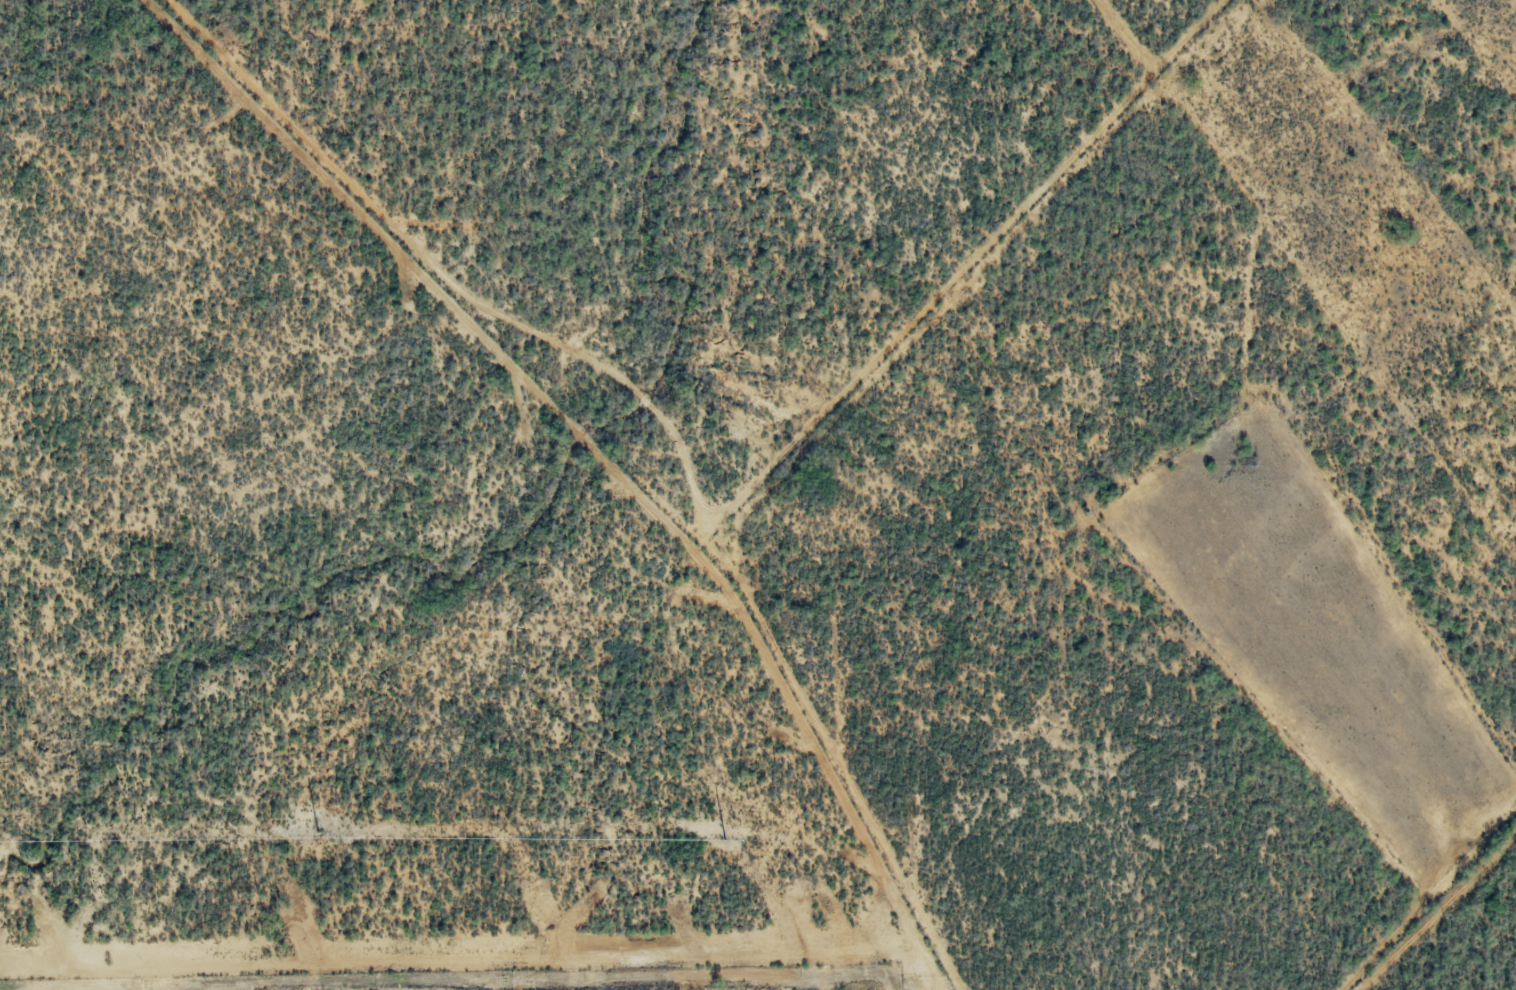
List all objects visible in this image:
power tower: (319, 832)
power tower: (727, 839)

